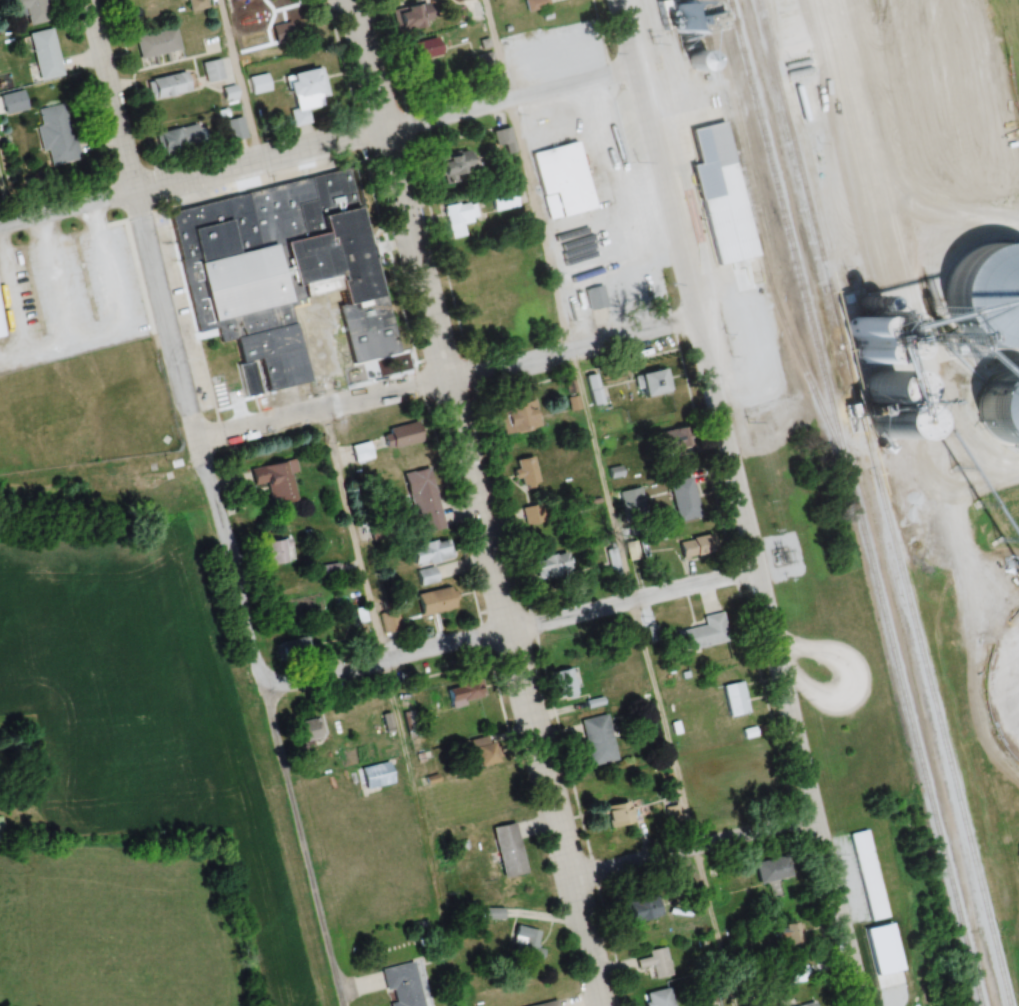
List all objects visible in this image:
building: (460, 0)
building: (196, 3)
building: (534, 4)
building: (30, 10)
building: (412, 15)
building: (685, 20)
building: (587, 33)
building: (157, 42)
building: (427, 47)
building: (45, 53)
building: (486, 57)
building: (212, 69)
building: (259, 82)
building: (169, 84)
road: (237, 84)
building: (305, 93)
road: (507, 100)
building: (234, 127)
building: (57, 132)
building: (181, 136)
building: (503, 139)
building: (457, 165)
building: (560, 178)
road: (192, 186)
building: (720, 194)
building: (503, 198)
building: (460, 216)
railway: (760, 250)
building: (276, 265)
building: (994, 275)
building: (617, 291)
building: (489, 313)
building: (1, 321)
road: (568, 356)
railway: (820, 369)
building: (652, 382)
building: (593, 388)
road: (321, 414)
building: (518, 416)
road: (585, 427)
building: (404, 433)
building: (672, 436)
building: (361, 450)
building: (525, 472)
building: (278, 480)
building: (424, 497)
building: (684, 498)
road: (212, 503)
road: (474, 503)
road: (734, 503)
railway: (882, 503)
building: (692, 547)
building: (278, 549)
building: (430, 551)
building: (550, 564)
building: (435, 600)
road: (629, 601)
building: (702, 633)
building: (294, 649)
road: (385, 666)
road: (383, 681)
building: (564, 682)
building: (465, 691)
building: (734, 699)
crop: (139, 706)
building: (308, 728)
building: (597, 739)
building: (484, 751)
building: (376, 772)
building: (617, 814)
building: (508, 849)
road: (690, 854)
building: (771, 870)
railway: (947, 872)
building: (866, 873)
building: (642, 908)
building: (493, 913)
building: (788, 934)
building: (526, 943)
building: (655, 962)
building: (797, 975)
building: (402, 985)
building: (659, 997)
building: (547, 1004)
building: (810, 1005)

